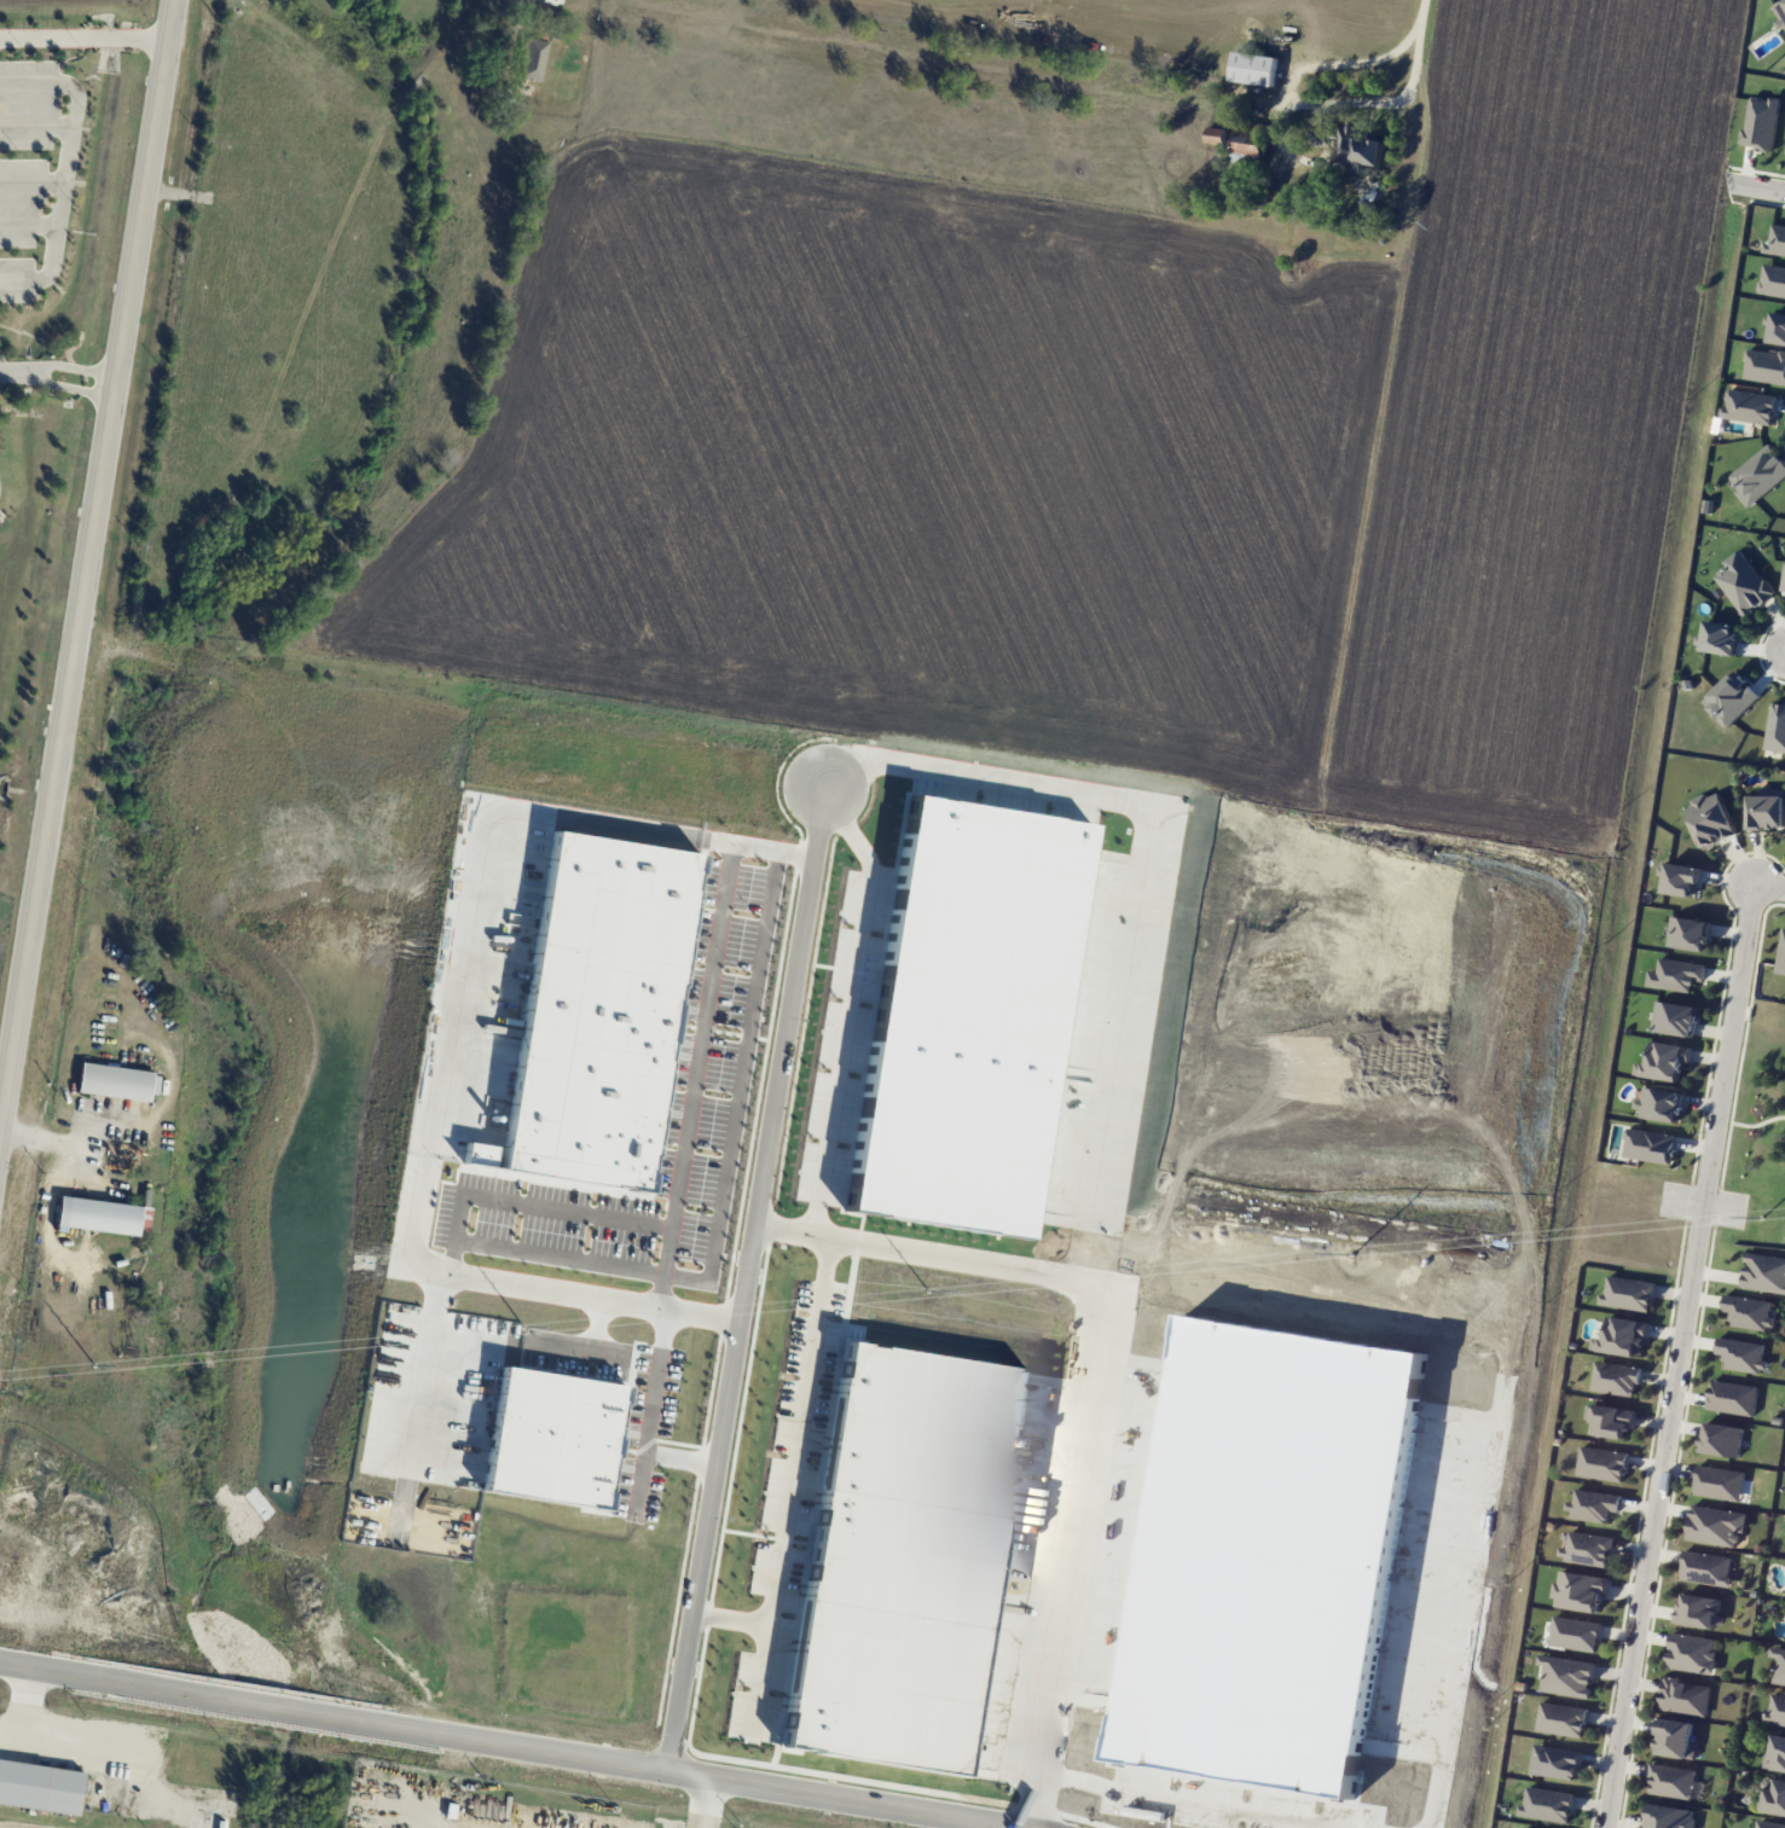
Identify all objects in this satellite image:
road: (1424, 11)
building: (1780, 12)
road: (85, 39)
building: (532, 59)
building: (1253, 68)
road: (1300, 104)
building: (1760, 122)
road: (35, 128)
building: (1215, 134)
building: (1321, 135)
building: (1248, 144)
building: (1358, 150)
road: (64, 169)
parking lot: (35, 172)
road: (31, 181)
road: (1756, 187)
road: (28, 225)
building: (1777, 238)
building: (1772, 279)
building: (1778, 327)
building: (1764, 365)
road: (62, 366)
road: (5, 371)
road: (60, 385)
building: (1749, 406)
building: (1758, 475)
road: (86, 567)
building: (1743, 582)
building: (1784, 587)
building: (1720, 637)
building: (1732, 696)
building: (1775, 727)
building: (1767, 809)
building: (1710, 819)
building: (1681, 878)
road: (1770, 887)
building: (1688, 933)
road: (483, 936)
building: (1781, 953)
building: (1675, 974)
road: (708, 994)
building: (1674, 1017)
building: (599, 1020)
building: (1665, 1060)
building: (112, 1080)
road: (742, 1089)
building: (1658, 1103)
road: (42, 1141)
building: (1648, 1145)
road: (1704, 1202)
road: (572, 1211)
building: (99, 1215)
power tower: (1763, 1217)
power tower: (1351, 1253)
road: (560, 1258)
building: (1764, 1272)
road: (746, 1276)
power tower: (927, 1289)
building: (1628, 1293)
road: (593, 1294)
building: (1749, 1311)
power tower: (523, 1325)
building: (1623, 1335)
road: (543, 1345)
building: (1741, 1354)
road: (1681, 1356)
power tower: (91, 1364)
road: (430, 1364)
road: (1101, 1377)
building: (1615, 1377)
building: (1732, 1397)
road: (651, 1406)
building: (1611, 1420)
building: (1721, 1439)
building: (544, 1447)
road: (680, 1457)
building: (1601, 1463)
road: (793, 1470)
building: (1719, 1481)
building: (1593, 1504)
building: (1715, 1525)
building: (1587, 1548)
building: (900, 1556)
building: (1706, 1567)
building: (1578, 1590)
building: (1697, 1611)
building: (1575, 1633)
building: (1692, 1653)
building: (1779, 1665)
building: (1566, 1675)
road: (759, 1679)
building: (1119, 1684)
building: (1685, 1696)
building: (1775, 1708)
building: (1561, 1718)
building: (1675, 1737)
road: (504, 1741)
road: (75, 1748)
building: (1778, 1753)
building: (1554, 1762)
building: (1167, 1765)
building: (1671, 1781)
building: (40, 1786)
building: (1774, 1795)
road: (709, 1803)
building: (1547, 1804)
building: (1669, 1816)
building: (1770, 1824)
building: (1528, 1827)

